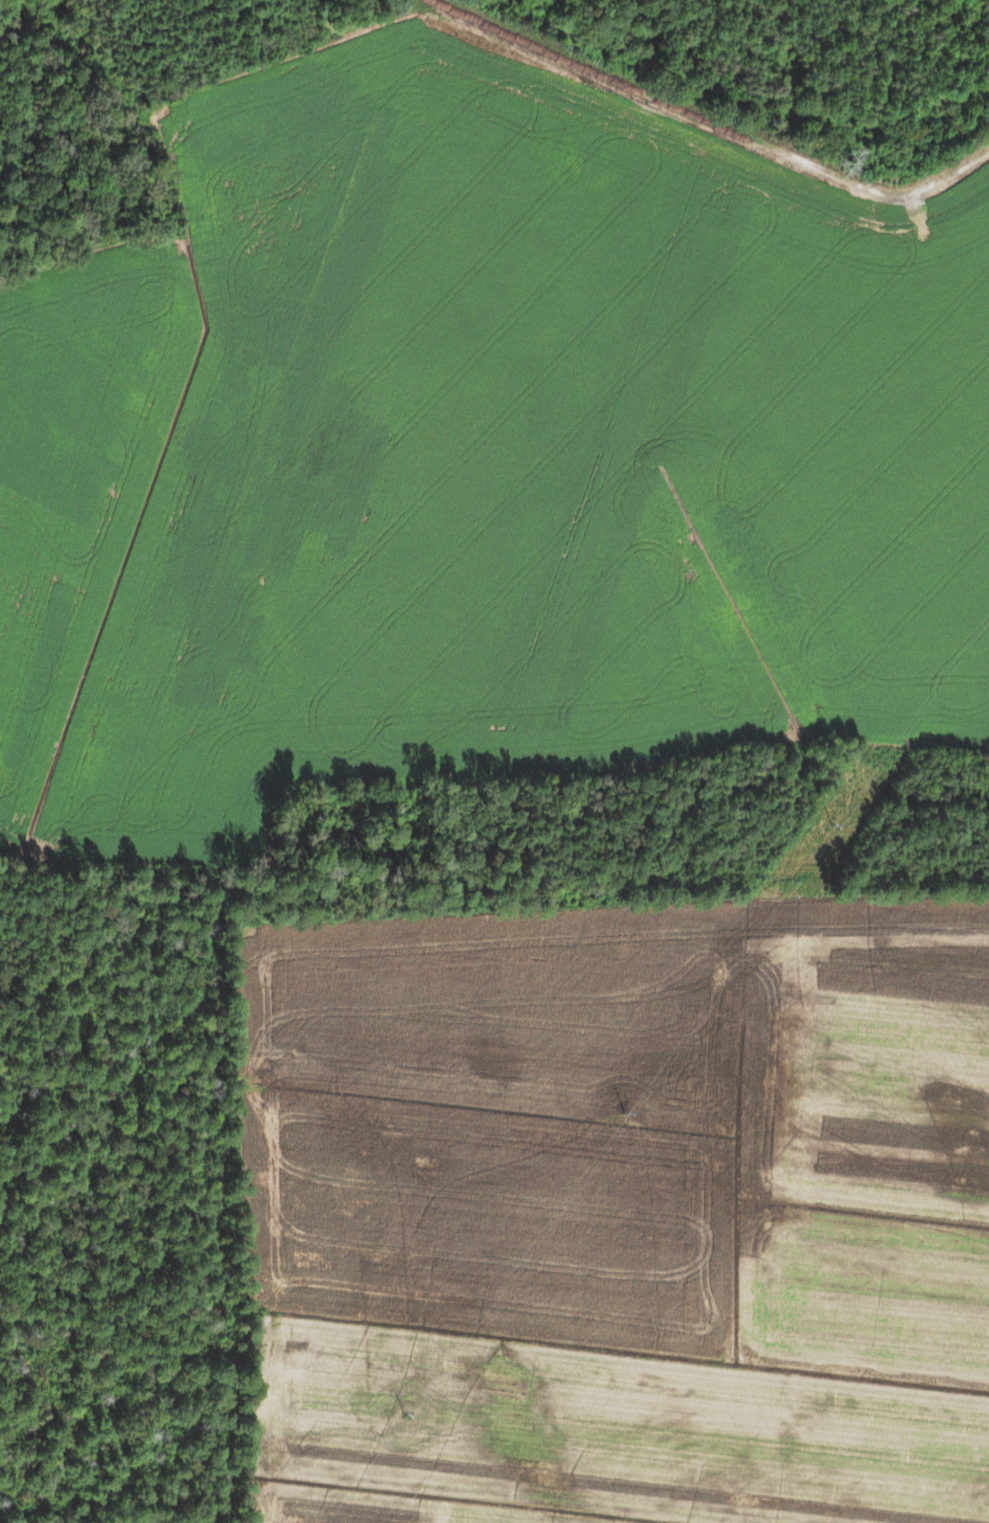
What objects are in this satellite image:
road: (710, 127)

